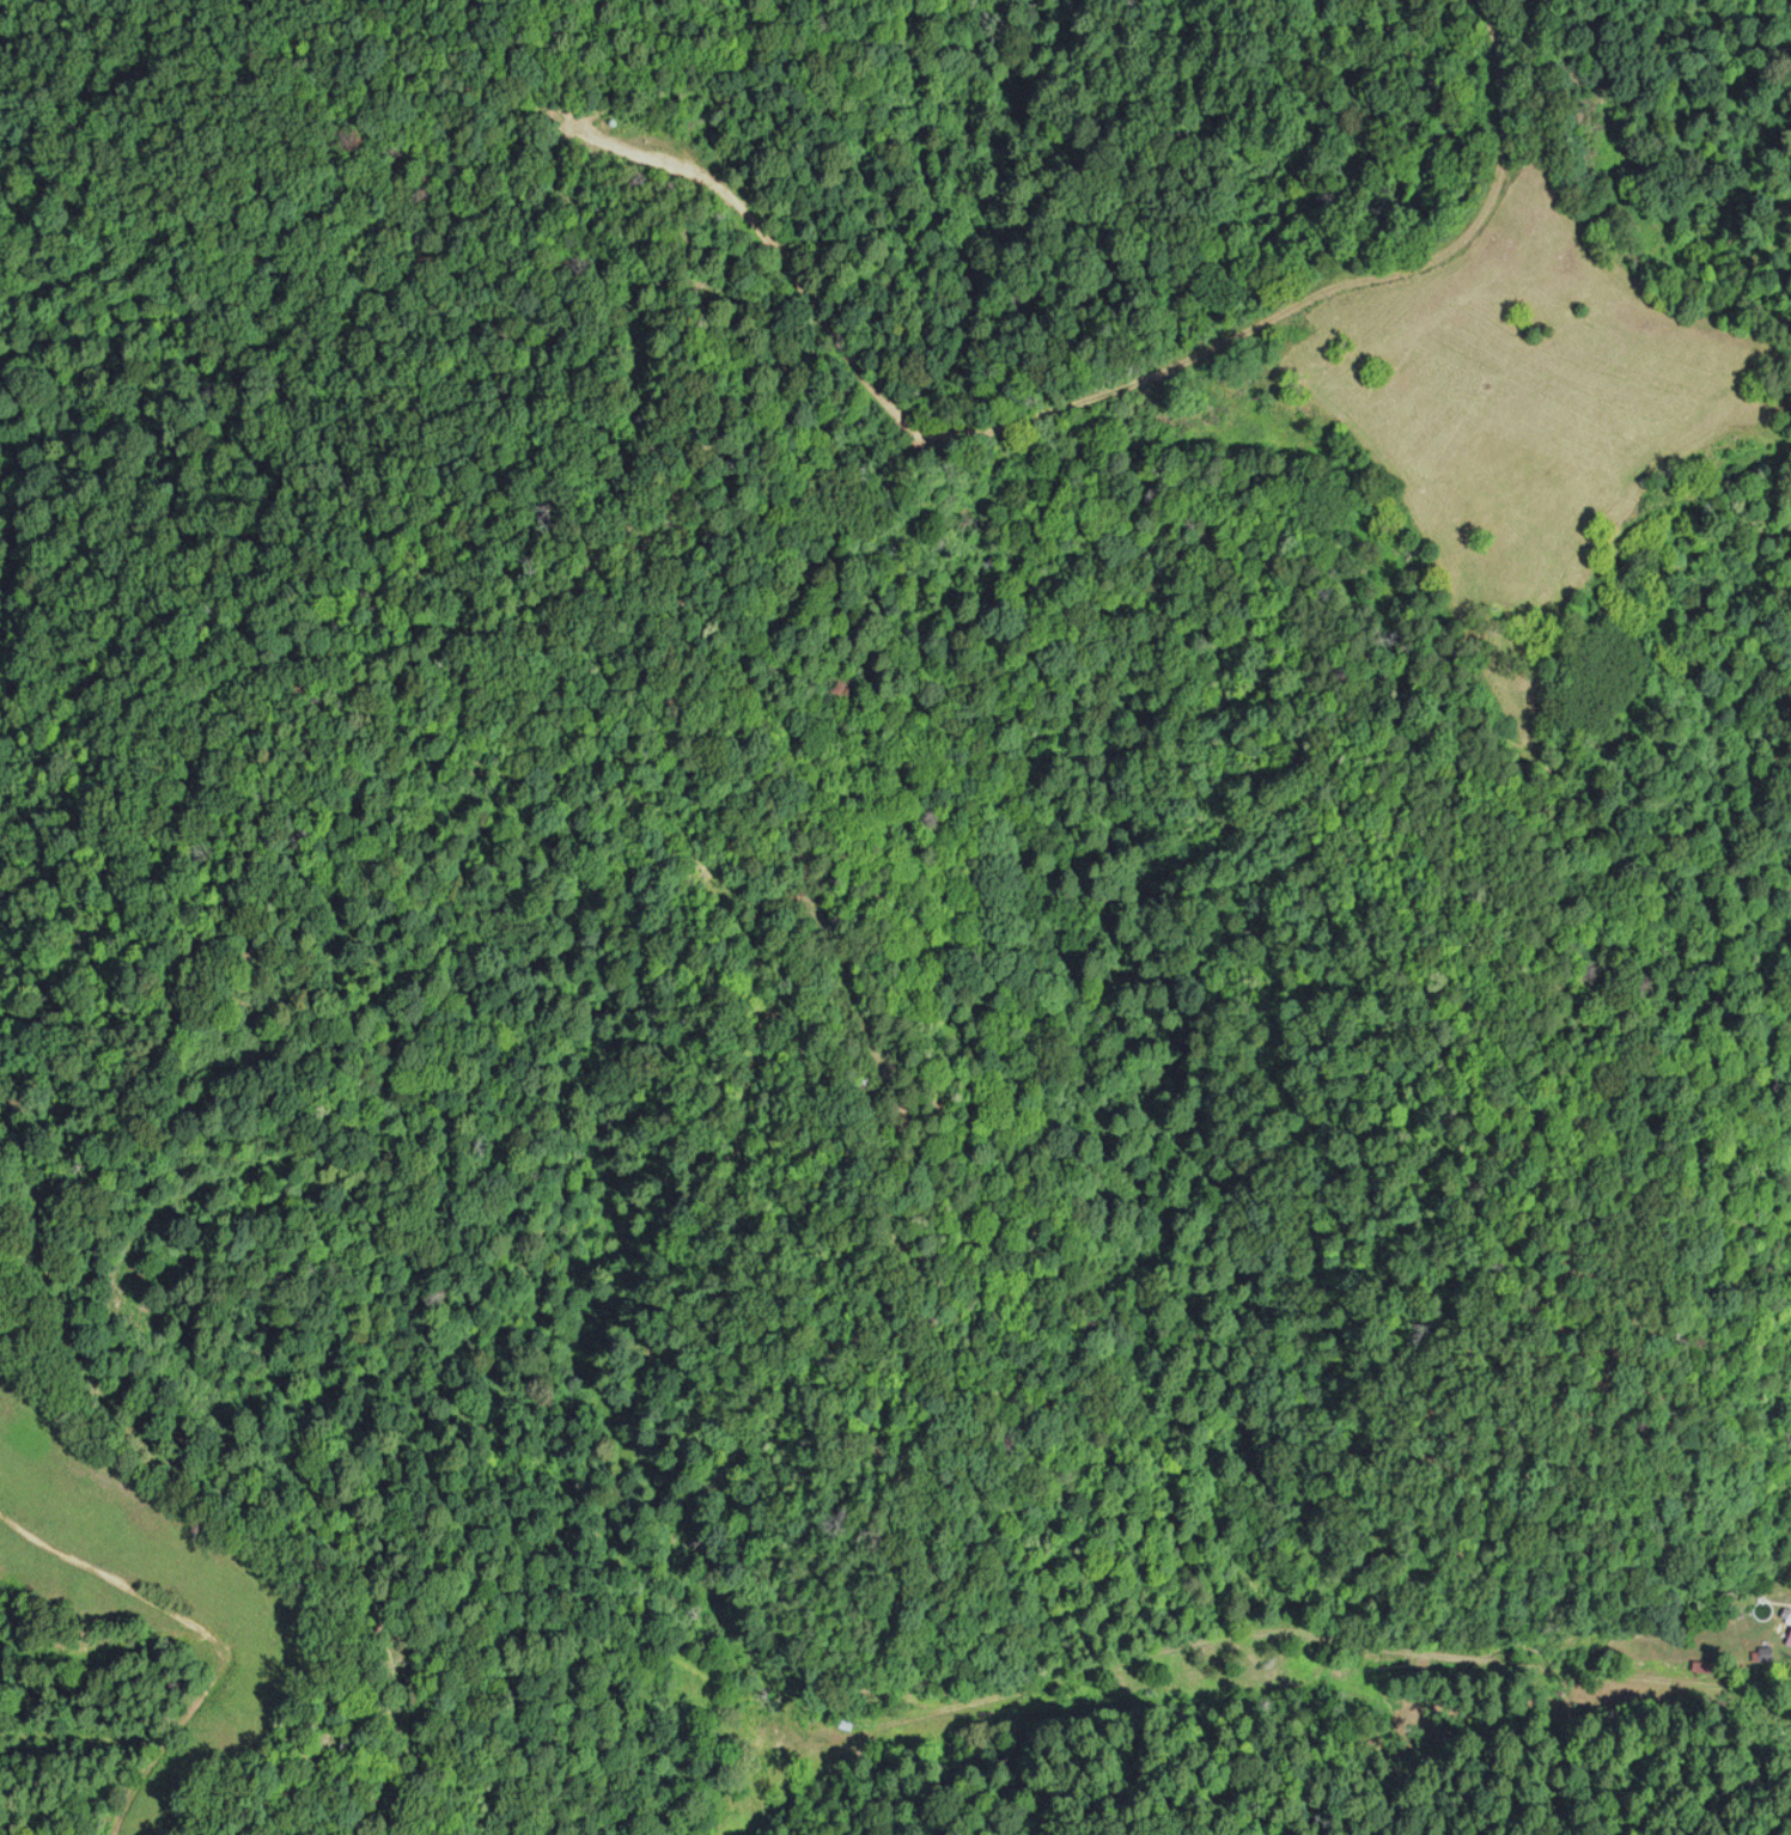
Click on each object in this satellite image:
road: (694, 528)
building: (1789, 1617)
road: (1360, 1635)
road: (182, 1647)

